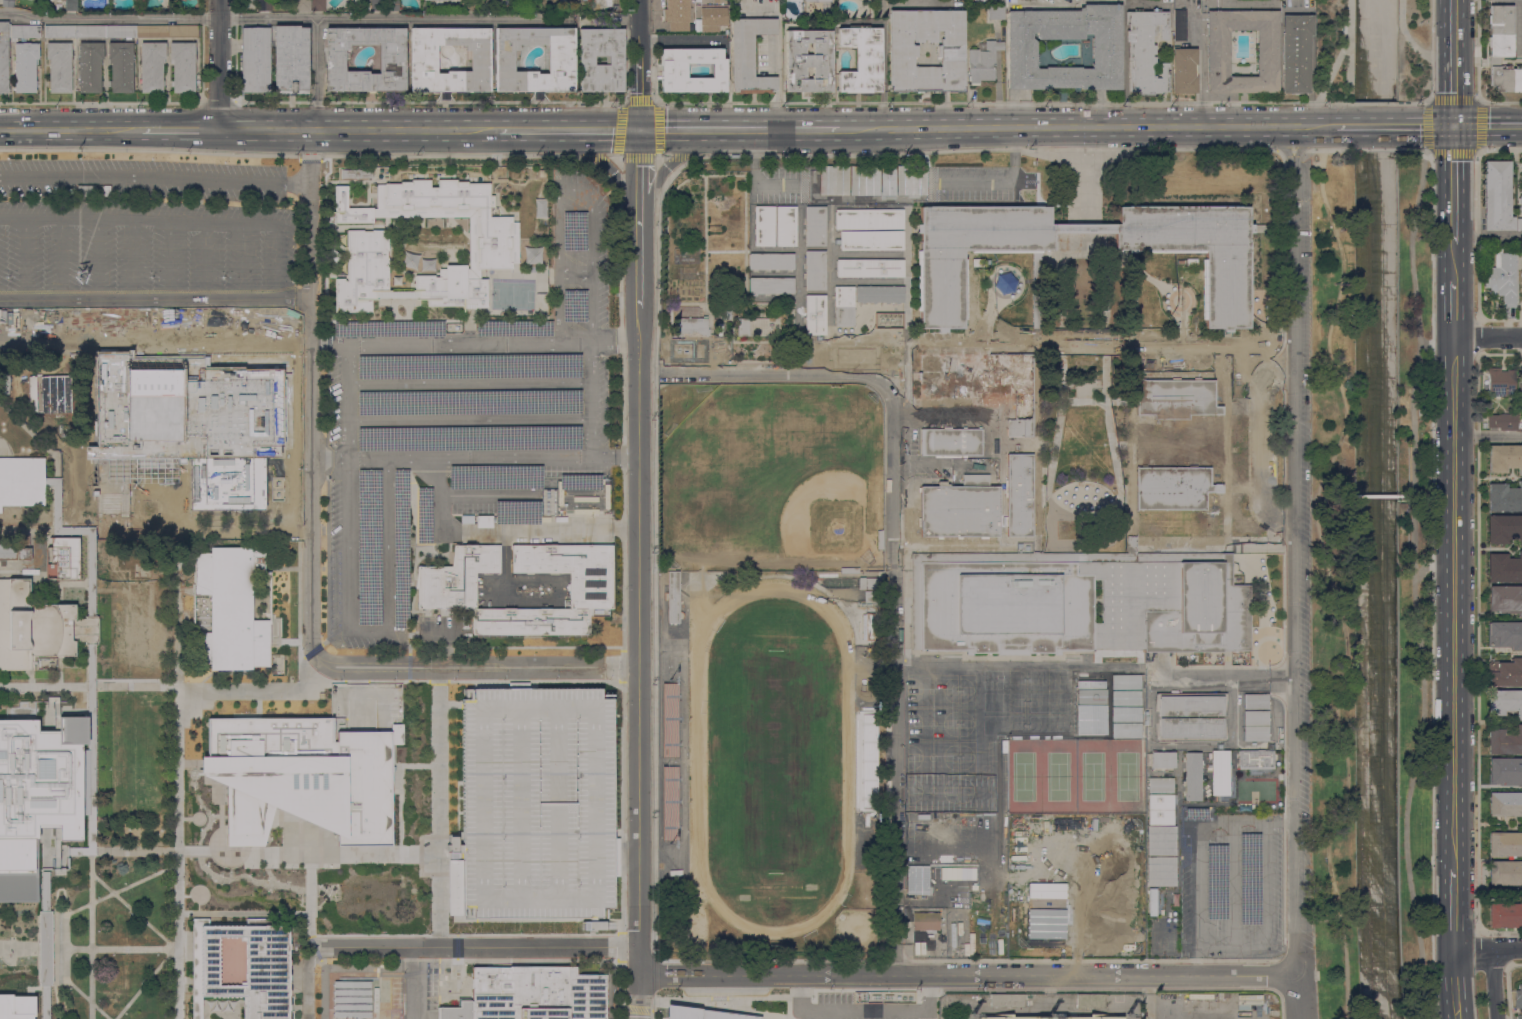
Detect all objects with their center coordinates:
building: (427, 0)
building: (794, 0)
building: (703, 1)
building: (970, 2)
building: (998, 2)
building: (7, 3)
building: (601, 4)
building: (71, 5)
building: (264, 5)
building: (318, 5)
building: (377, 5)
building: (392, 5)
building: (467, 5)
building: (823, 5)
building: (301, 6)
building: (995, 12)
building: (709, 16)
road: (280, 18)
building: (1180, 25)
road: (1432, 28)
building: (24, 32)
building: (61, 32)
building: (90, 32)
building: (121, 32)
building: (152, 32)
building: (182, 32)
road: (1123, 43)
park: (1412, 49)
building: (1293, 50)
park: (1332, 50)
building: (926, 51)
building: (1145, 51)
road: (1421, 51)
building: (1501, 51)
building: (1218, 53)
road: (1310, 53)
road: (1340, 53)
building: (1021, 54)
building: (4, 56)
building: (749, 56)
building: (255, 60)
building: (290, 60)
building: (614, 60)
building: (861, 60)
building: (808, 61)
building: (982, 62)
road: (219, 64)
road: (1453, 64)
building: (392, 65)
building: (423, 65)
building: (561, 66)
building: (25, 67)
building: (59, 67)
building: (90, 67)
building: (121, 67)
building: (152, 67)
building: (183, 67)
road: (1201, 69)
building: (673, 71)
building: (1184, 71)
road: (1477, 73)
road: (316, 74)
road: (388, 101)
road: (986, 102)
road: (141, 103)
road: (1372, 103)
road: (1477, 126)
road: (1065, 127)
road: (1427, 127)
road: (1314, 128)
road: (1342, 128)
road: (1377, 128)
road: (1429, 128)
traffic signals: (1454, 128)
road: (1488, 128)
road: (70, 129)
road: (180, 129)
road: (564, 129)
traffic signals: (639, 129)
road: (739, 129)
road: (354, 130)
road: (1291, 150)
road: (1313, 150)
road: (1374, 150)
road: (292, 154)
road: (593, 155)
road: (613, 156)
road: (621, 156)
road: (662, 156)
road: (595, 157)
road: (677, 157)
road: (681, 157)
road: (638, 171)
road: (1475, 172)
road: (155, 176)
building: (1521, 178)
road: (885, 182)
road: (1454, 182)
parking lot: (885, 184)
road: (568, 188)
building: (85, 190)
building: (105, 190)
building: (1497, 195)
road: (138, 219)
building: (1519, 224)
building: (764, 226)
building: (786, 226)
building: (815, 226)
parking lot: (144, 227)
building: (1084, 227)
building: (870, 230)
road: (1487, 237)
building: (493, 243)
building: (1198, 249)
road: (1454, 258)
road: (25, 259)
road: (60, 259)
road: (97, 259)
road: (133, 259)
road: (169, 260)
road: (205, 260)
road: (242, 261)
road: (277, 262)
building: (771, 262)
building: (977, 263)
building: (1191, 263)
building: (869, 268)
building: (363, 271)
building: (816, 271)
road: (574, 272)
building: (1503, 277)
road: (1293, 279)
building: (1520, 283)
building: (942, 284)
building: (771, 286)
building: (396, 294)
road: (397, 294)
building: (737, 295)
building: (879, 295)
road: (155, 299)
building: (844, 307)
road: (1454, 309)
building: (725, 315)
building: (815, 315)
road: (1063, 318)
road: (400, 319)
road: (468, 325)
building: (752, 327)
building: (721, 329)
building: (692, 331)
road: (1488, 336)
road: (1048, 341)
road: (474, 345)
building: (816, 357)
road: (653, 364)
road: (1105, 369)
building: (1501, 381)
road: (467, 383)
building: (982, 383)
building: (1521, 386)
road: (310, 390)
building: (50, 394)
road: (347, 400)
road: (588, 400)
building: (1174, 400)
road: (1085, 401)
road: (916, 402)
road: (1038, 403)
road: (1131, 403)
road: (467, 419)
building: (1502, 421)
parking lot: (461, 423)
building: (1483, 425)
building: (1519, 426)
road: (1488, 435)
building: (986, 441)
building: (951, 442)
road: (1256, 442)
road: (1225, 443)
building: (1037, 445)
road: (473, 457)
building: (1504, 457)
park: (770, 477)
building: (21, 481)
building: (225, 483)
building: (1173, 488)
road: (1228, 489)
road: (486, 495)
building: (1019, 495)
building: (1505, 498)
building: (960, 509)
road: (91, 522)
building: (484, 522)
building: (1504, 529)
road: (28, 530)
road: (96, 530)
road: (505, 530)
building: (1381, 533)
building: (880, 540)
road: (1212, 542)
road: (401, 545)
road: (948, 545)
road: (423, 551)
road: (449, 551)
road: (416, 552)
building: (14, 553)
road: (894, 553)
road: (423, 557)
road: (1015, 557)
building: (61, 559)
road: (504, 559)
building: (1504, 568)
building: (27, 570)
road: (9, 571)
building: (849, 571)
building: (90, 575)
park: (1413, 579)
parking lot: (1301, 580)
road: (1331, 582)
road: (400, 583)
building: (868, 584)
road: (1412, 585)
road: (1432, 585)
park: (1332, 589)
building: (871, 597)
building: (445, 598)
building: (673, 598)
building: (1505, 600)
road: (1453, 602)
building: (1081, 607)
building: (231, 611)
road: (407, 611)
building: (37, 627)
road: (367, 629)
parking lot: (443, 630)
building: (1505, 635)
road: (324, 642)
road: (638, 644)
road: (523, 646)
road: (447, 650)
road: (408, 663)
road: (91, 665)
road: (471, 667)
building: (1507, 674)
road: (1230, 678)
road: (406, 680)
road: (45, 686)
road: (96, 686)
road: (142, 686)
road: (256, 692)
road: (622, 694)
building: (1255, 701)
building: (1504, 702)
road: (1293, 703)
road: (452, 704)
building: (1190, 706)
road: (257, 711)
building: (1256, 726)
building: (1191, 728)
park: (996, 740)
building: (1505, 742)
building: (89, 759)
track: (769, 760)
building: (1163, 760)
building: (1256, 760)
park: (774, 761)
road: (189, 764)
building: (865, 768)
building: (1505, 772)
road: (85, 773)
road: (178, 773)
building: (1220, 773)
park: (1074, 775)
building: (299, 777)
building: (1193, 777)
building: (1160, 784)
road: (398, 788)
building: (37, 796)
building: (536, 803)
parking garage: (536, 803)
building: (1505, 804)
road: (439, 809)
building: (1160, 809)
road: (187, 818)
road: (309, 838)
building: (1161, 840)
building: (1505, 845)
road: (444, 846)
building: (452, 847)
road: (44, 848)
road: (457, 848)
road: (143, 850)
road: (449, 850)
road: (451, 851)
road: (1198, 851)
road: (305, 852)
building: (615, 857)
building: (1161, 871)
building: (1505, 873)
park: (1075, 885)
parking lot: (1229, 886)
road: (1231, 886)
road: (1265, 886)
road: (121, 888)
road: (56, 891)
road: (309, 894)
road: (188, 895)
road: (452, 906)
road: (1452, 908)
road: (133, 911)
road: (244, 913)
building: (1505, 915)
building: (925, 921)
road: (594, 923)
road: (586, 924)
building: (590, 924)
road: (619, 925)
road: (589, 926)
road: (91, 929)
road: (312, 942)
road: (45, 944)
building: (44, 945)
road: (365, 946)
road: (65, 947)
road: (456, 947)
road: (527, 947)
road: (22, 948)
road: (119, 948)
road: (50, 949)
road: (1230, 949)
road: (1486, 949)
road: (318, 954)
road: (500, 959)
road: (638, 961)
building: (238, 970)
road: (966, 976)
road: (417, 978)
road: (307, 981)
road: (145, 982)
road: (1506, 983)
road: (1454, 984)
road: (1493, 984)
road: (323, 989)
road: (966, 989)
road: (640, 990)
building: (531, 995)
building: (1520, 995)
road: (639, 997)
road: (1296, 997)
road: (86, 999)
building: (352, 1000)
building: (1006, 1000)
building: (1090, 1001)
road: (56, 1003)
building: (15, 1006)
road: (787, 1007)
road: (864, 1011)
building: (701, 1013)
road: (758, 1013)
road: (419, 1016)
building: (1050, 1018)
building: (1519, 1018)

